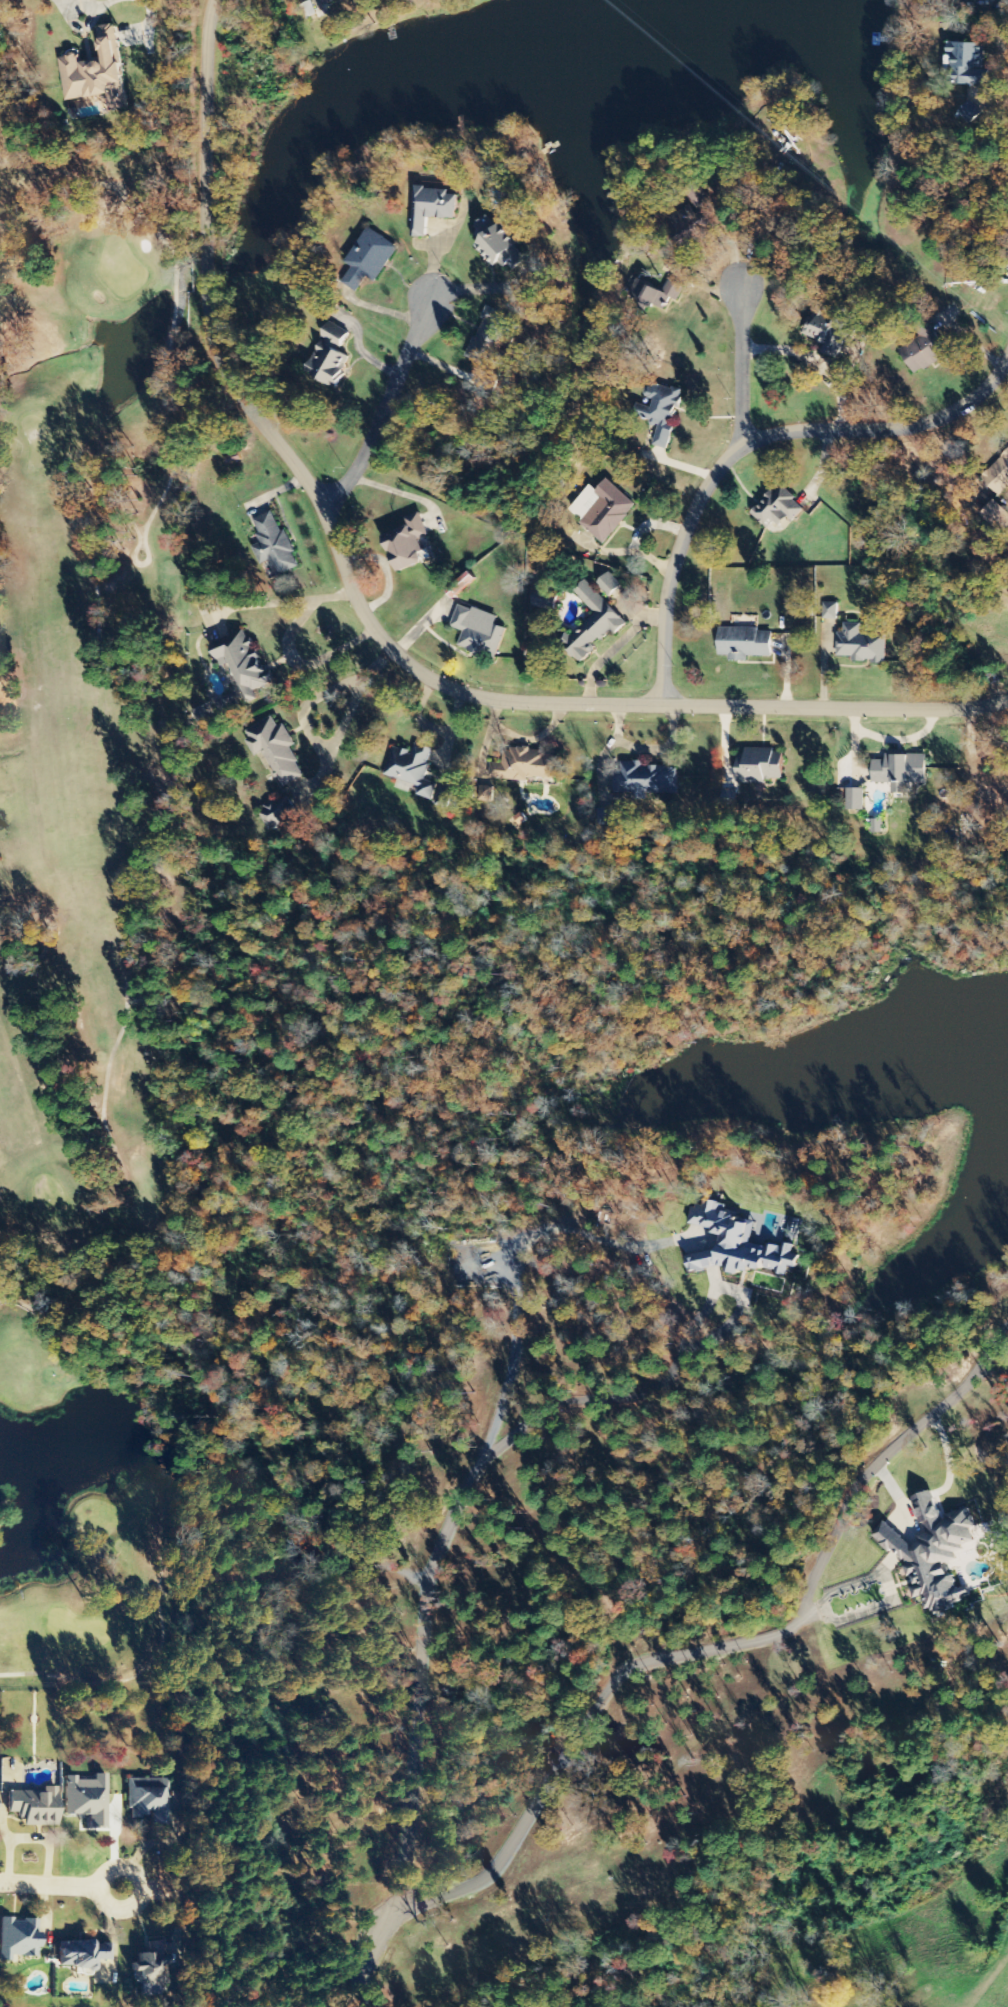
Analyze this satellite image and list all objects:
building: (329, 1)
building: (967, 62)
building: (97, 73)
building: (431, 208)
building: (497, 244)
building: (369, 259)
building: (830, 332)
building: (488, 337)
building: (924, 349)
building: (329, 357)
road: (742, 367)
road: (386, 409)
building: (660, 410)
road: (748, 445)
building: (997, 475)
building: (778, 508)
building: (600, 509)
building: (995, 516)
building: (274, 543)
building: (406, 544)
building: (609, 584)
building: (461, 585)
building: (545, 599)
building: (830, 611)
road: (369, 622)
building: (593, 623)
building: (477, 631)
building: (744, 643)
building: (861, 645)
building: (243, 662)
building: (276, 750)
building: (526, 766)
building: (759, 766)
building: (413, 769)
building: (900, 771)
building: (644, 780)
building: (485, 794)
building: (443, 799)
building: (855, 799)
building: (278, 813)
building: (878, 817)
building: (877, 826)
park: (97, 913)
building: (737, 1244)
road: (703, 1256)
road: (519, 1262)
road: (620, 1395)
building: (931, 1552)
building: (965, 1593)
road: (647, 1662)
road: (413, 1681)
building: (147, 1799)
building: (32, 1807)
road: (58, 1886)
building: (17, 1938)
building: (80, 1954)
building: (150, 1970)

